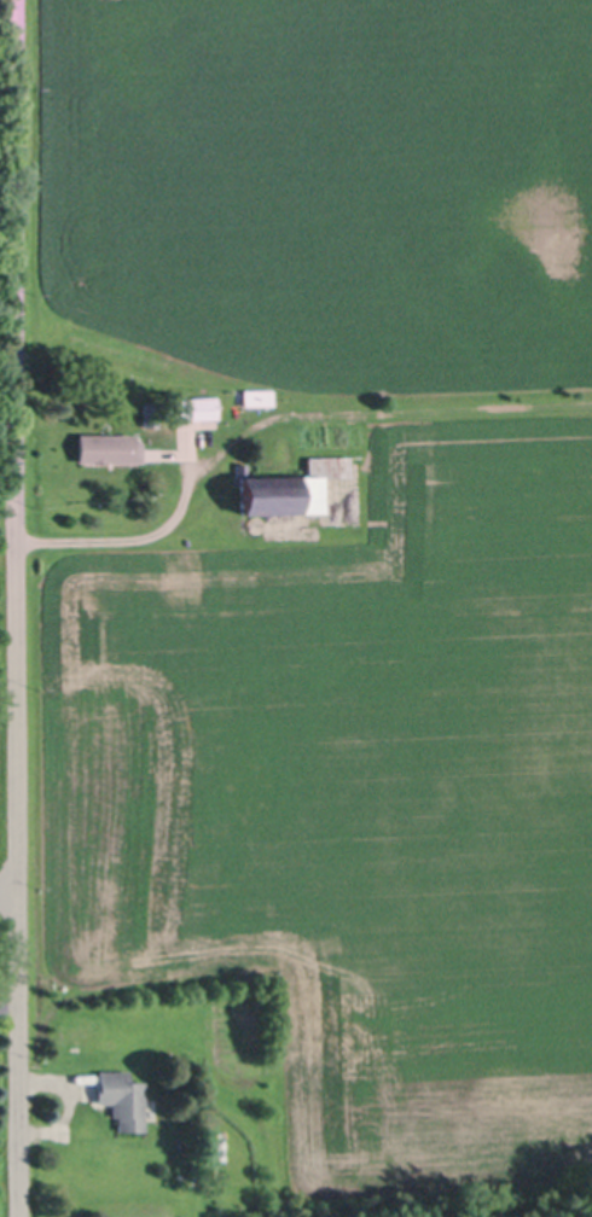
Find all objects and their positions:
building: (259, 396)
building: (197, 408)
building: (152, 413)
building: (105, 448)
building: (330, 465)
building: (280, 495)
road: (127, 538)
crop: (335, 565)
building: (187, 571)
road: (16, 608)
road: (8, 890)
road: (8, 1011)
building: (124, 1097)
building: (222, 1148)

